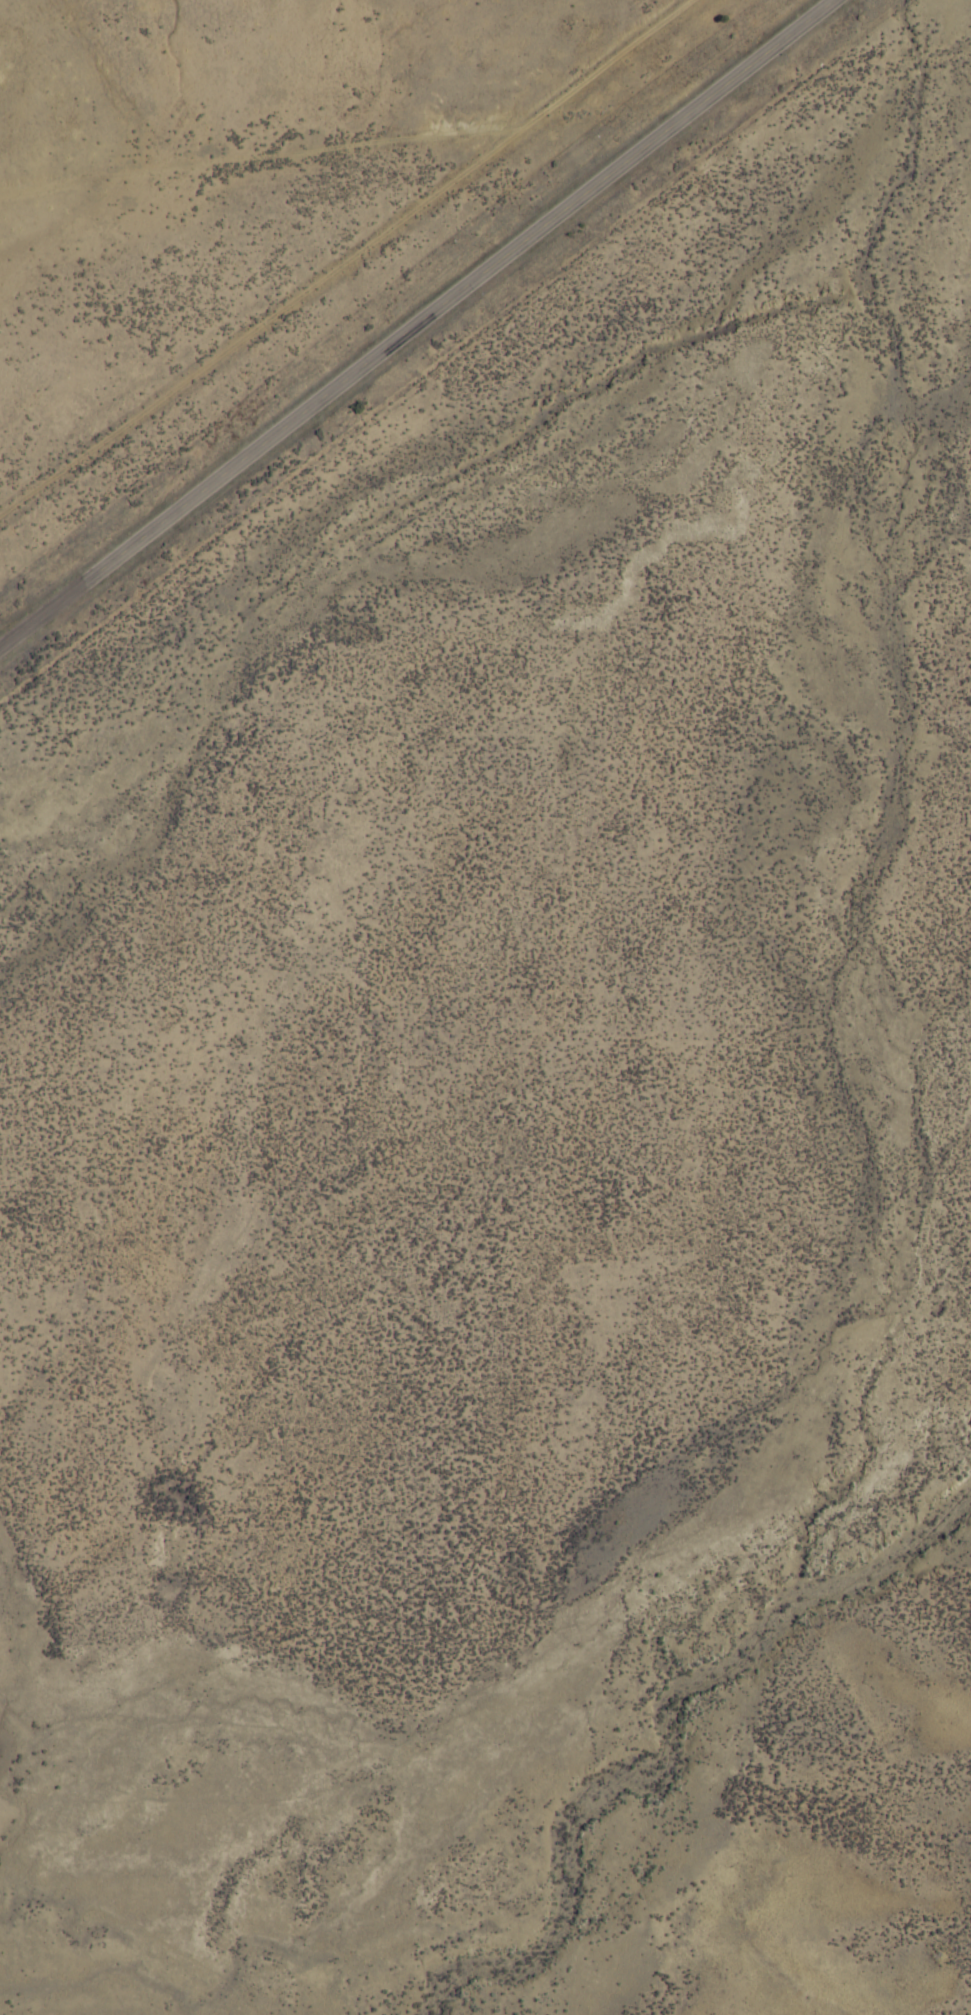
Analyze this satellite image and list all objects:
road: (411, 320)

